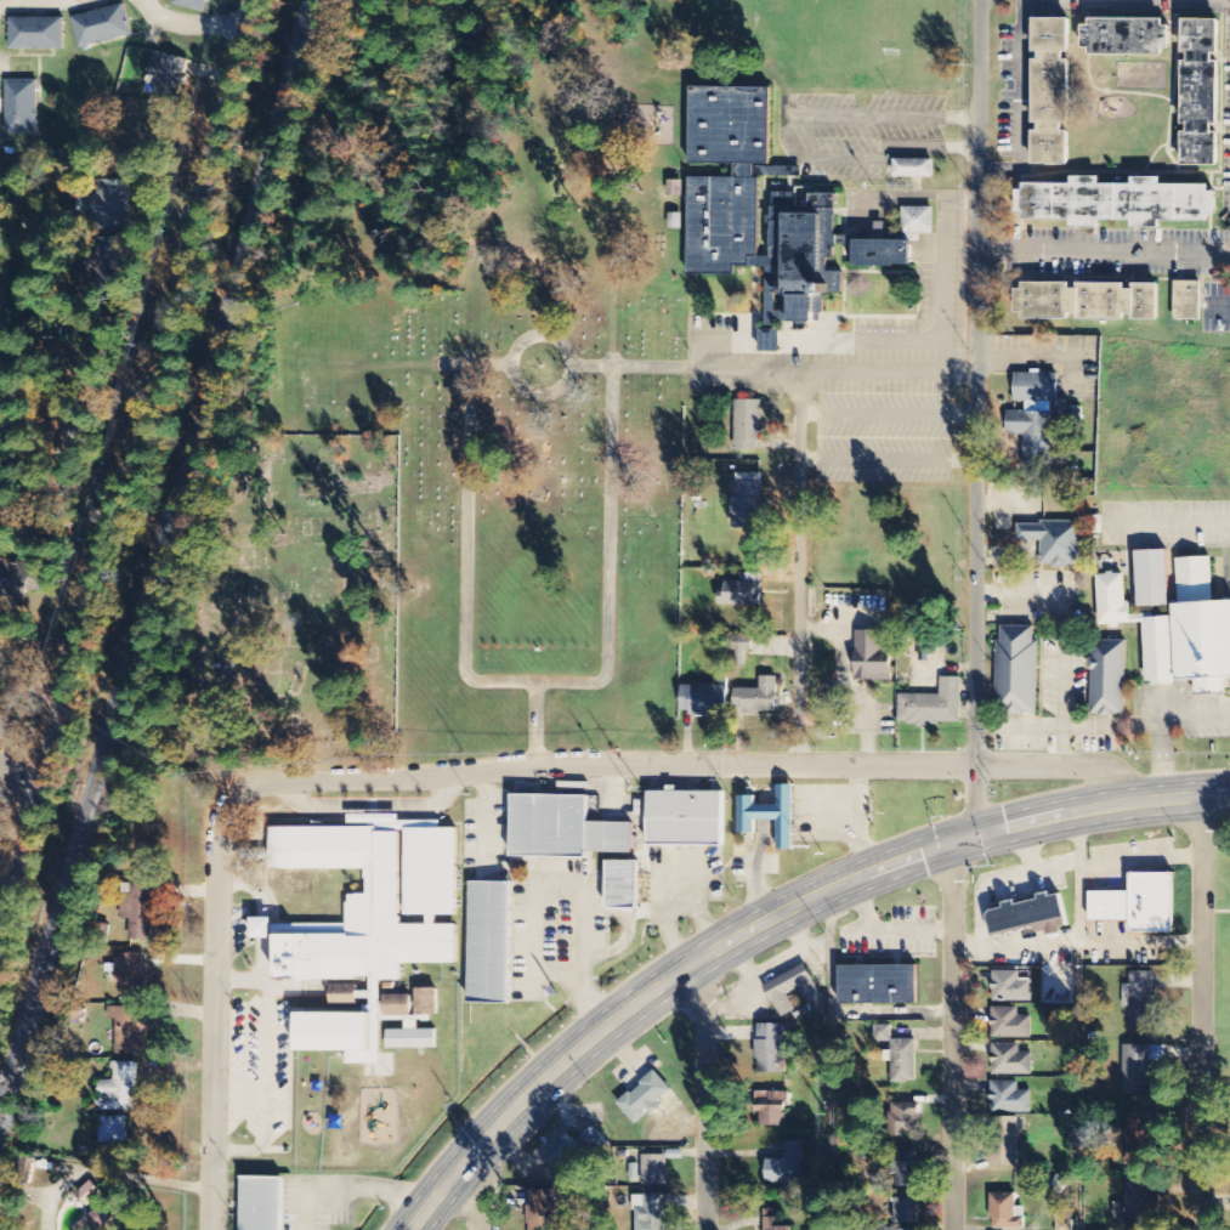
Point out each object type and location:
road: (148, 2)
building: (192, 5)
road: (189, 22)
building: (102, 27)
building: (36, 34)
building: (1129, 34)
building: (168, 78)
building: (1054, 89)
building: (1203, 90)
road: (1022, 106)
building: (21, 108)
building: (913, 169)
building: (674, 188)
building: (1117, 200)
building: (104, 204)
building: (24, 206)
building: (722, 215)
building: (918, 220)
road: (1105, 251)
building: (112, 260)
building: (2, 285)
building: (1088, 299)
building: (1189, 299)
building: (1, 341)
building: (97, 358)
road: (979, 382)
road: (74, 389)
building: (748, 425)
road: (125, 476)
park: (508, 494)
building: (747, 500)
building: (1054, 542)
railway: (153, 554)
building: (1155, 577)
building: (18, 580)
road: (801, 588)
building: (741, 594)
park: (301, 599)
building: (1178, 624)
building: (741, 650)
building: (872, 657)
building: (1019, 668)
building: (1110, 675)
building: (758, 698)
building: (704, 701)
building: (933, 707)
park: (23, 709)
road: (5, 743)
road: (4, 766)
road: (1059, 766)
road: (601, 773)
road: (25, 786)
road: (1174, 798)
road: (976, 800)
building: (770, 816)
building: (685, 820)
building: (562, 829)
traffic signals: (976, 835)
traffic signals: (945, 845)
building: (432, 871)
building: (623, 885)
building: (1139, 905)
building: (138, 909)
building: (357, 911)
building: (1030, 916)
building: (261, 929)
building: (491, 943)
road: (721, 945)
building: (131, 975)
building: (878, 986)
building: (1011, 987)
building: (790, 991)
building: (346, 993)
building: (1143, 999)
building: (427, 1001)
building: (399, 1004)
road: (216, 1013)
road: (1201, 1013)
road: (1082, 1020)
building: (1010, 1025)
building: (130, 1031)
building: (883, 1035)
building: (338, 1036)
road: (953, 1037)
building: (413, 1038)
building: (770, 1050)
road: (832, 1060)
building: (903, 1061)
building: (1010, 1061)
building: (1140, 1069)
building: (119, 1089)
road: (704, 1095)
building: (645, 1099)
building: (1009, 1099)
building: (773, 1110)
building: (905, 1120)
building: (113, 1130)
building: (1137, 1139)
building: (1004, 1143)
building: (567, 1156)
building: (786, 1167)
building: (654, 1171)
building: (907, 1194)
building: (89, 1195)
road: (477, 1197)
building: (261, 1203)
building: (1139, 1206)
building: (543, 1209)
building: (650, 1213)
building: (1007, 1213)
building: (1064, 1220)
building: (90, 1224)

